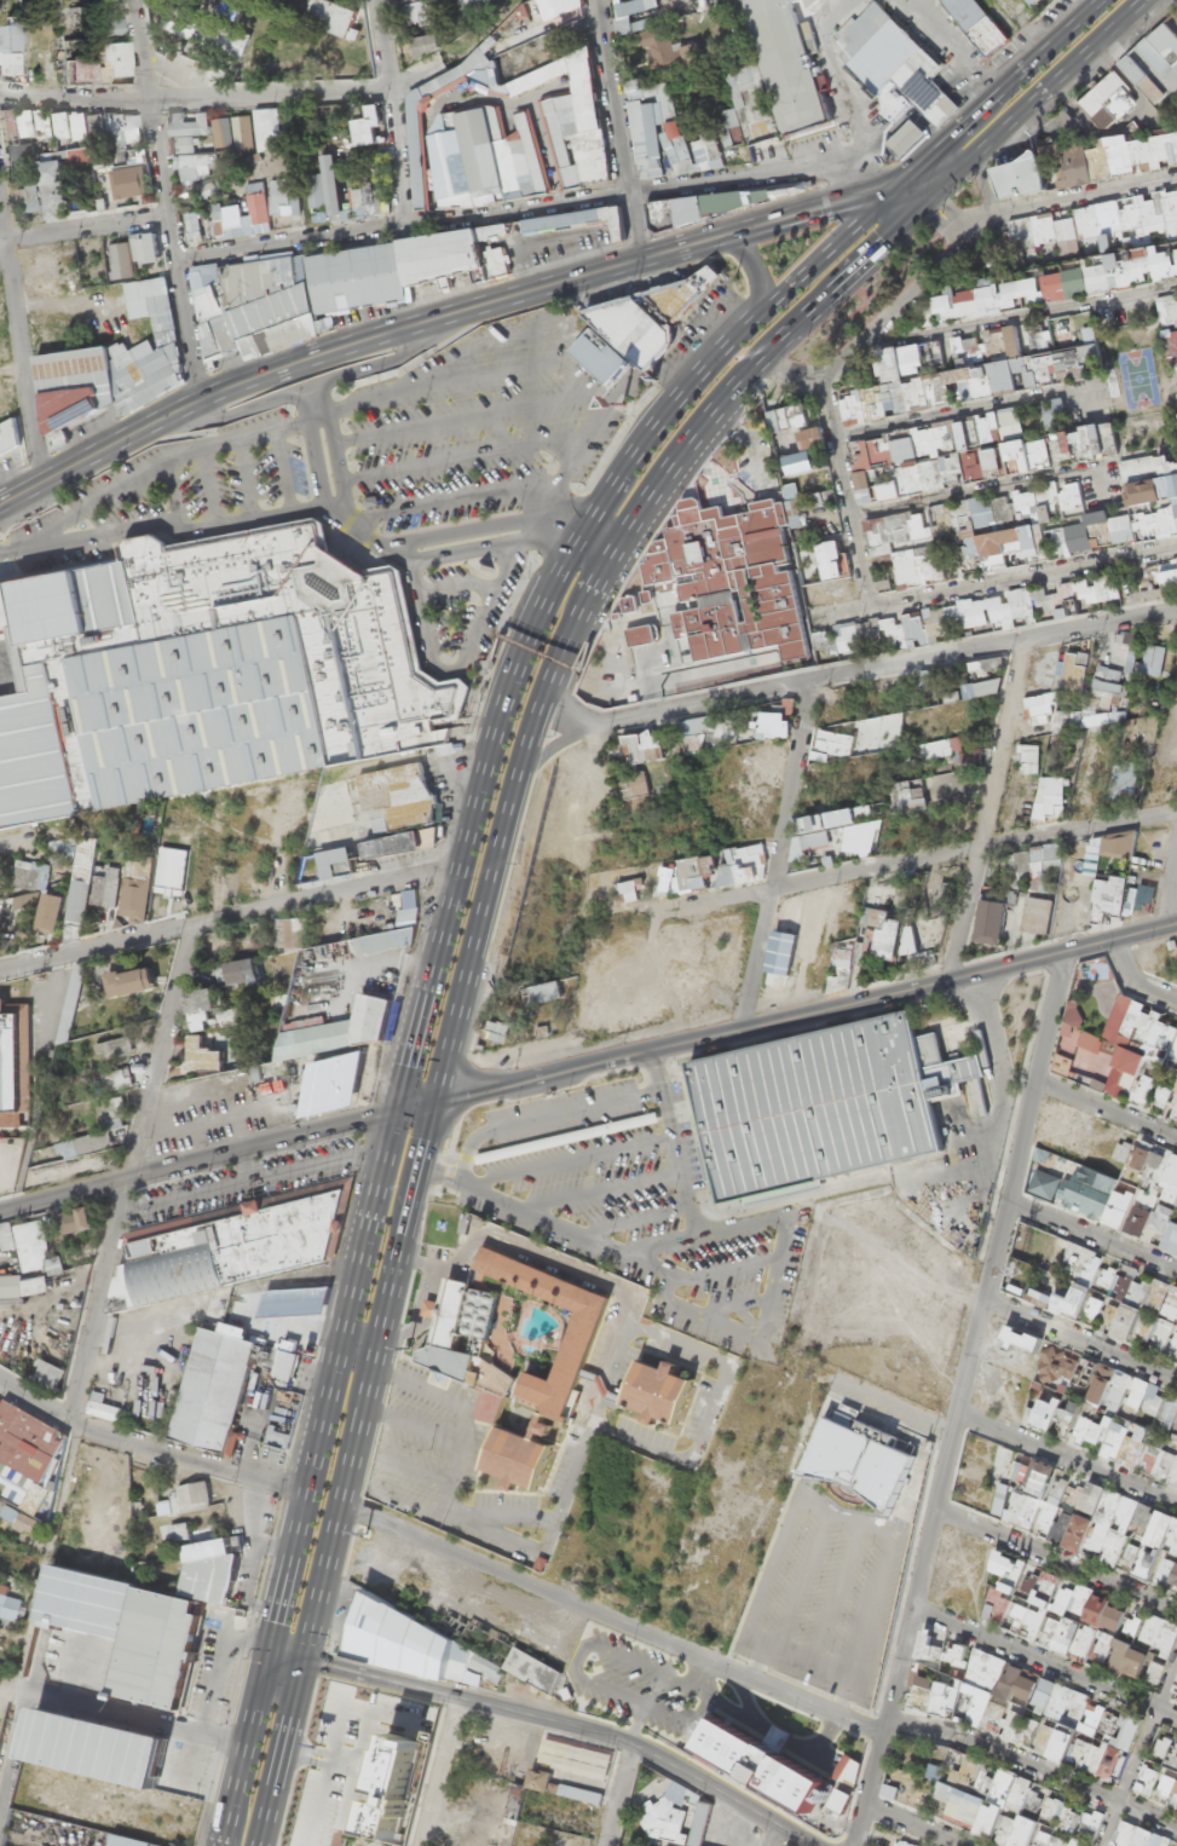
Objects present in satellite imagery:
parking lot: (376, 484)
parking lot: (629, 1206)

